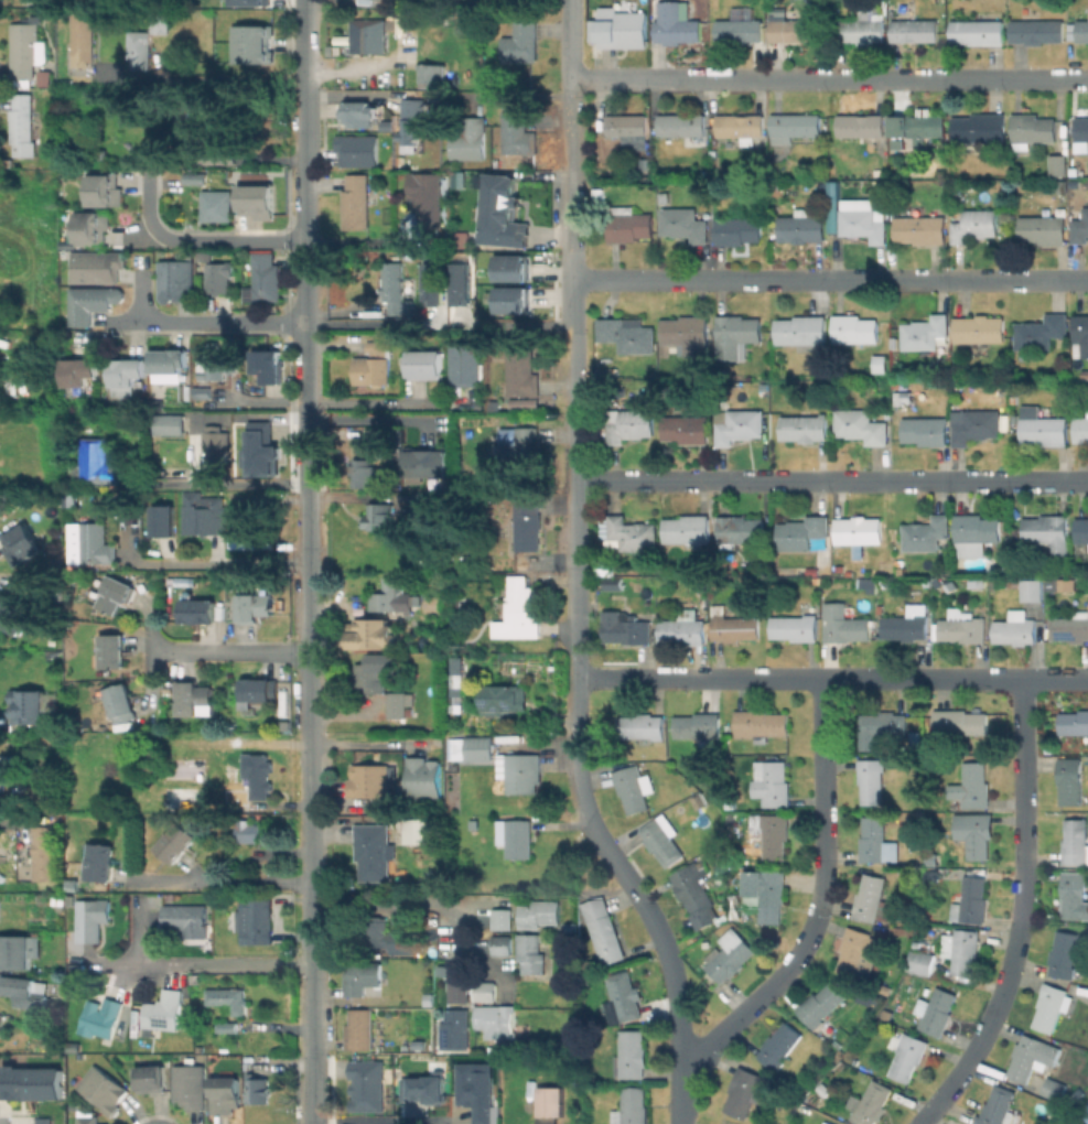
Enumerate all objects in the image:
building: (248, 2)
building: (160, 22)
building: (676, 22)
building: (795, 26)
building: (861, 28)
building: (617, 29)
building: (740, 30)
building: (914, 30)
building: (1082, 30)
building: (978, 31)
building: (1036, 31)
building: (365, 35)
road: (304, 41)
building: (84, 42)
building: (254, 44)
building: (519, 45)
building: (24, 48)
building: (139, 48)
building: (428, 73)
road: (828, 76)
road: (198, 79)
building: (359, 115)
road: (304, 123)
building: (411, 123)
building: (627, 123)
building: (24, 126)
building: (387, 126)
building: (741, 126)
building: (794, 126)
building: (917, 126)
building: (685, 127)
building: (863, 127)
building: (978, 128)
building: (1081, 129)
building: (1031, 130)
building: (514, 131)
building: (468, 139)
building: (206, 140)
building: (359, 151)
building: (1058, 163)
building: (644, 165)
building: (193, 181)
building: (107, 190)
building: (425, 197)
building: (664, 197)
building: (355, 202)
building: (216, 204)
building: (257, 204)
building: (500, 209)
building: (858, 220)
building: (628, 223)
building: (683, 223)
building: (1080, 224)
building: (974, 225)
building: (801, 227)
building: (920, 228)
building: (1043, 228)
building: (93, 229)
building: (737, 229)
road: (198, 239)
building: (96, 268)
building: (514, 269)
building: (219, 277)
building: (268, 278)
road: (830, 278)
building: (177, 281)
road: (304, 285)
building: (431, 285)
building: (460, 285)
building: (392, 287)
building: (514, 301)
building: (93, 304)
road: (207, 321)
road: (356, 324)
building: (979, 328)
building: (853, 329)
building: (1081, 331)
building: (801, 332)
building: (1041, 332)
building: (626, 333)
building: (687, 333)
building: (920, 333)
building: (735, 335)
building: (214, 364)
building: (373, 364)
building: (428, 365)
building: (467, 366)
building: (171, 367)
building: (270, 367)
building: (521, 371)
building: (613, 371)
building: (79, 372)
building: (127, 376)
road: (573, 380)
building: (202, 393)
building: (903, 399)
building: (521, 402)
road: (367, 418)
building: (628, 423)
building: (169, 424)
building: (739, 424)
building: (860, 425)
building: (976, 425)
building: (686, 426)
building: (804, 426)
building: (1081, 426)
building: (925, 430)
building: (1045, 431)
building: (379, 435)
building: (214, 443)
building: (521, 445)
building: (258, 450)
building: (98, 462)
building: (429, 464)
building: (363, 472)
road: (831, 477)
road: (220, 482)
building: (427, 505)
building: (202, 515)
building: (379, 515)
building: (161, 520)
building: (527, 523)
building: (687, 529)
building: (1081, 529)
building: (740, 530)
building: (801, 531)
building: (858, 531)
building: (633, 532)
building: (1046, 532)
building: (925, 533)
building: (977, 536)
building: (94, 543)
building: (22, 544)
road: (220, 562)
building: (1000, 571)
building: (615, 584)
building: (868, 584)
building: (1057, 584)
building: (951, 587)
building: (1031, 588)
building: (115, 596)
building: (390, 598)
building: (257, 609)
building: (200, 612)
building: (521, 612)
building: (17, 614)
building: (842, 623)
building: (907, 623)
building: (733, 625)
building: (1070, 626)
building: (624, 627)
building: (683, 627)
building: (794, 627)
building: (962, 628)
building: (1014, 630)
building: (373, 633)
road: (227, 647)
building: (112, 652)
building: (375, 673)
road: (831, 678)
building: (453, 680)
building: (261, 692)
building: (120, 699)
building: (195, 699)
building: (504, 700)
building: (29, 706)
building: (399, 706)
building: (1074, 721)
building: (760, 722)
building: (958, 722)
building: (640, 724)
building: (881, 726)
building: (699, 728)
building: (915, 741)
road: (255, 744)
road: (367, 744)
building: (478, 747)
building: (455, 764)
road: (310, 765)
building: (186, 769)
building: (521, 772)
building: (257, 779)
building: (871, 779)
building: (1069, 779)
building: (373, 781)
building: (425, 781)
building: (771, 781)
building: (629, 786)
building: (970, 786)
building: (185, 798)
building: (699, 799)
building: (249, 830)
building: (417, 831)
building: (772, 832)
building: (976, 835)
building: (516, 836)
building: (875, 840)
building: (1075, 840)
building: (660, 842)
building: (179, 843)
building: (371, 851)
building: (46, 853)
building: (931, 855)
building: (100, 861)
building: (435, 877)
road: (222, 879)
building: (765, 893)
building: (693, 894)
building: (1074, 894)
building: (872, 898)
building: (971, 900)
road: (819, 901)
road: (403, 904)
building: (539, 912)
road: (1020, 912)
building: (91, 918)
building: (187, 918)
building: (502, 918)
building: (255, 920)
building: (603, 929)
building: (375, 933)
road: (659, 933)
building: (408, 940)
building: (499, 944)
building: (961, 950)
building: (858, 951)
building: (15, 953)
building: (1064, 953)
building: (530, 954)
building: (729, 954)
building: (919, 960)
road: (216, 963)
building: (556, 964)
building: (360, 977)
building: (886, 988)
building: (485, 991)
building: (460, 993)
building: (24, 994)
building: (622, 996)
building: (227, 997)
building: (569, 997)
building: (431, 998)
building: (821, 1006)
building: (1051, 1006)
building: (165, 1012)
building: (885, 1012)
building: (935, 1012)
building: (495, 1018)
building: (103, 1019)
building: (227, 1026)
building: (1, 1027)
building: (456, 1027)
building: (359, 1029)
building: (420, 1042)
building: (779, 1045)
building: (631, 1053)
building: (907, 1056)
building: (1031, 1056)
building: (152, 1080)
building: (802, 1080)
building: (34, 1084)
building: (364, 1084)
building: (191, 1087)
building: (425, 1088)
building: (822, 1088)
building: (1056, 1088)
building: (474, 1089)
building: (104, 1090)
building: (258, 1091)
building: (743, 1091)
building: (226, 1096)
building: (870, 1102)
building: (546, 1104)
building: (631, 1106)
building: (998, 1106)
building: (90, 1121)
road: (4, 1123)

